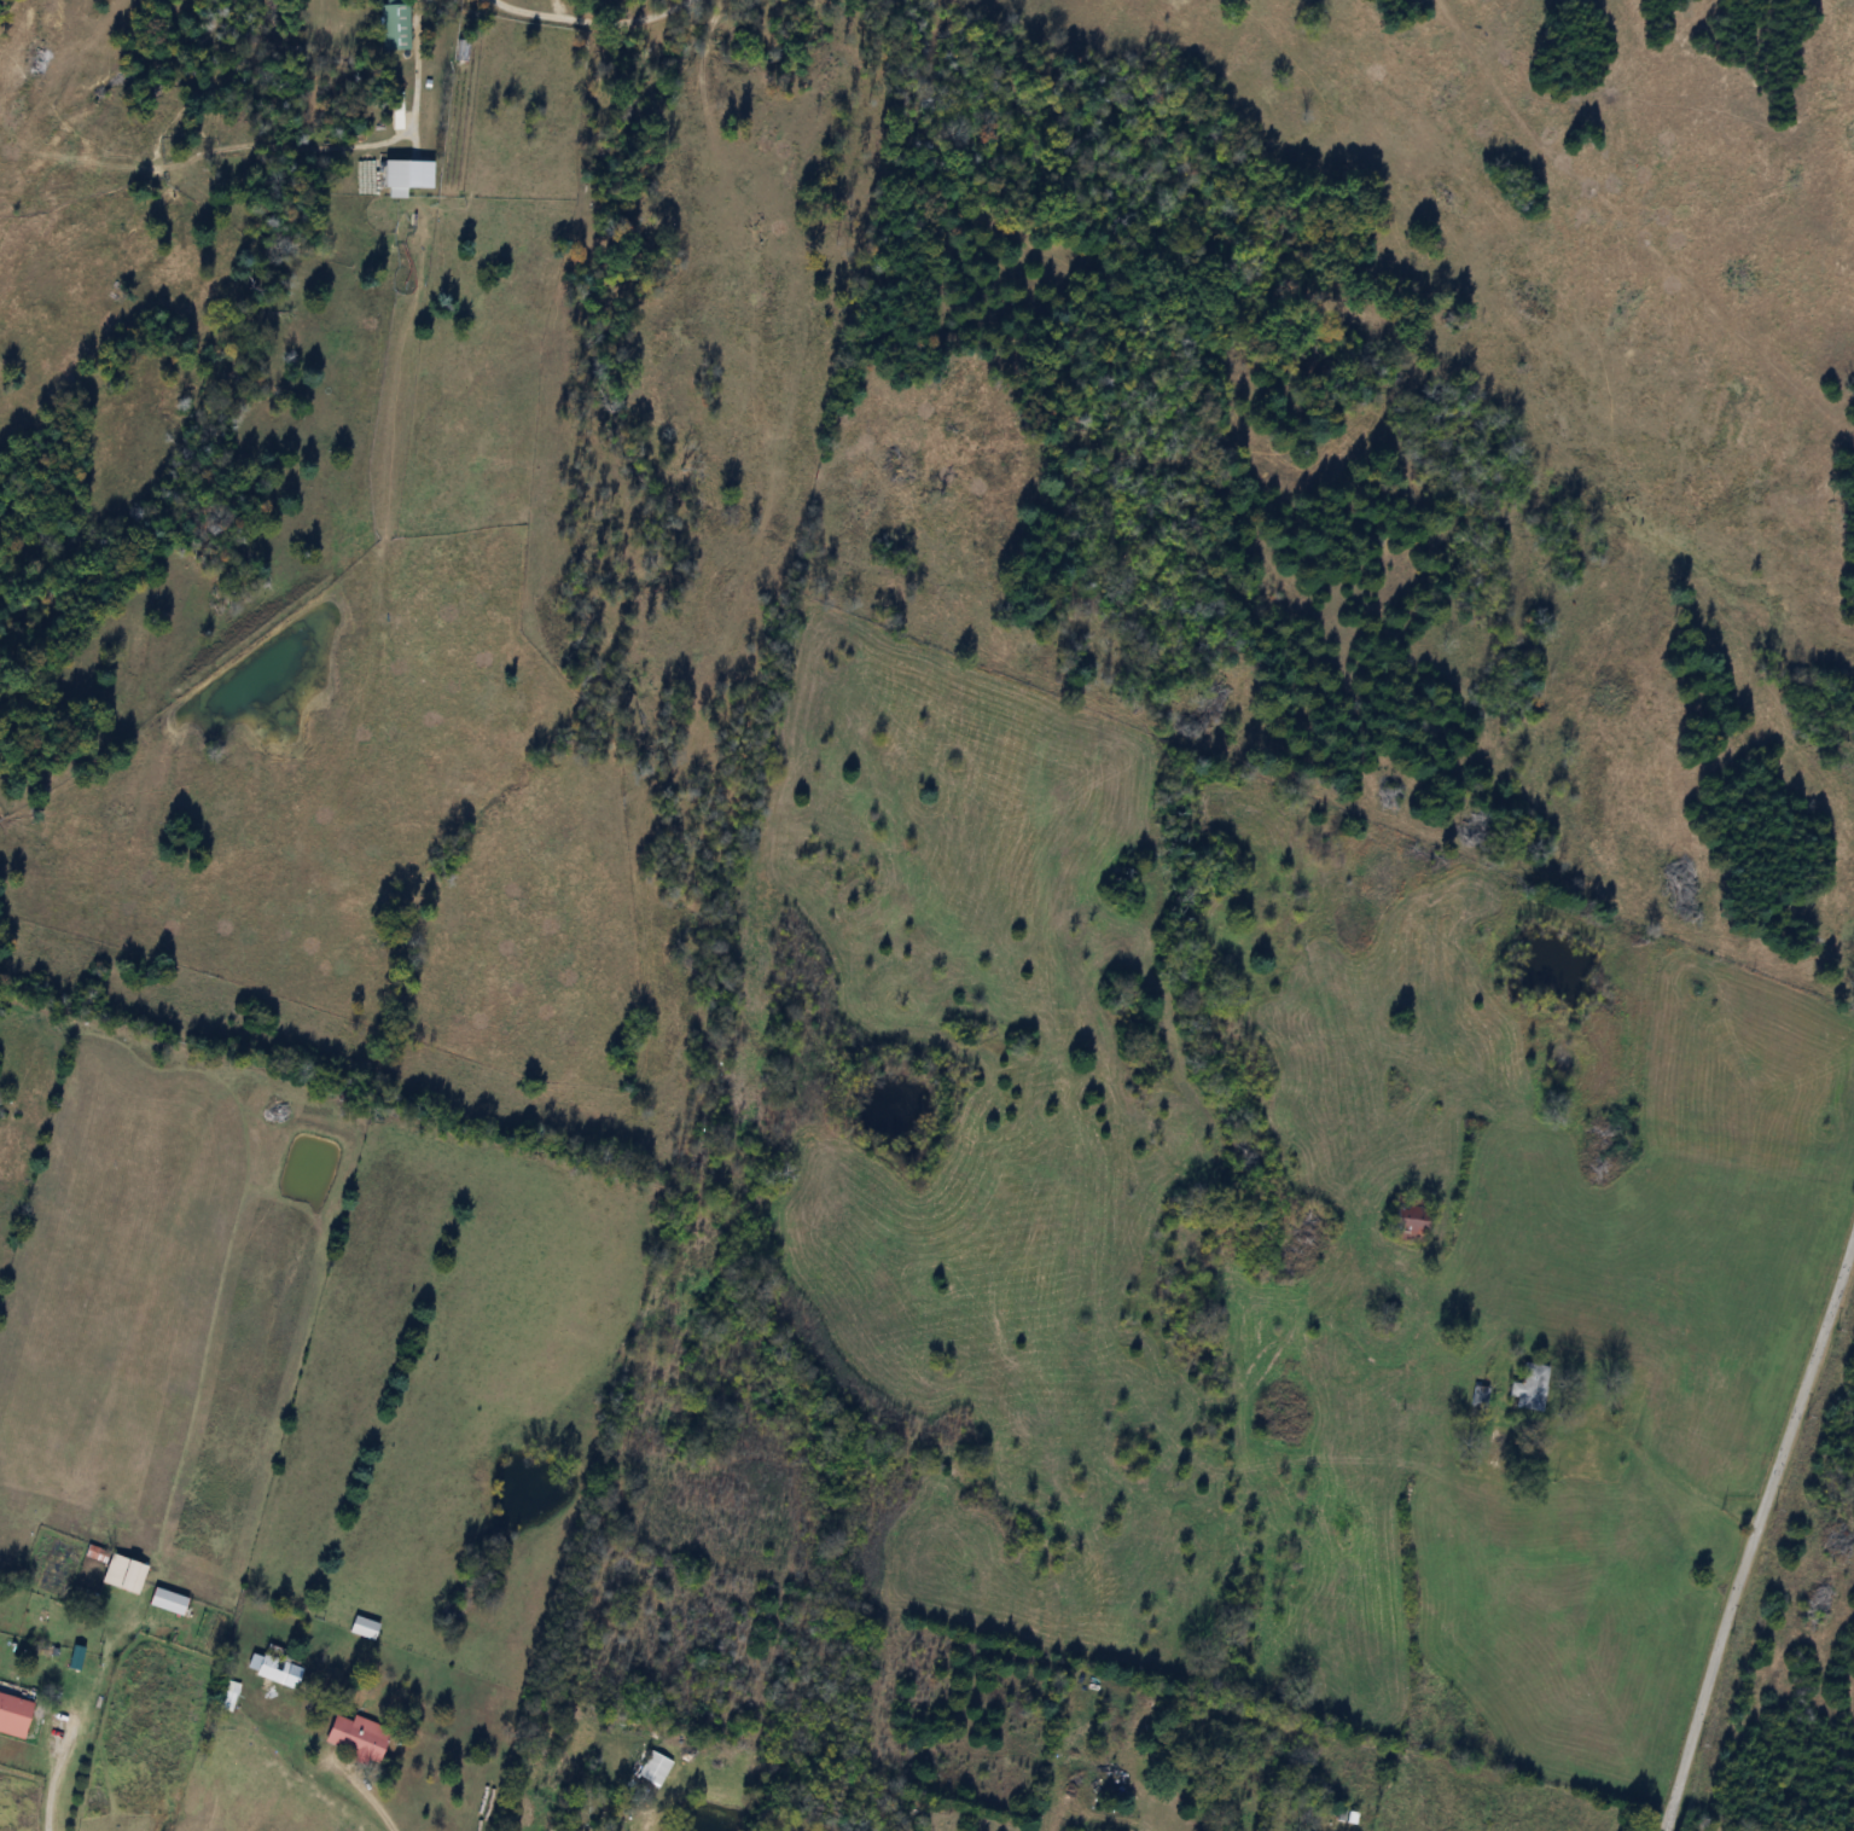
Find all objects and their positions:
road: (557, 7)
road: (589, 17)
building: (393, 24)
building: (394, 179)
building: (1527, 1387)
building: (1478, 1395)
road: (1761, 1527)
building: (93, 1552)
building: (122, 1573)
building: (167, 1600)
building: (362, 1627)
building: (274, 1666)
building: (13, 1714)
building: (355, 1737)
building: (653, 1767)
road: (52, 1784)
road: (371, 1798)

